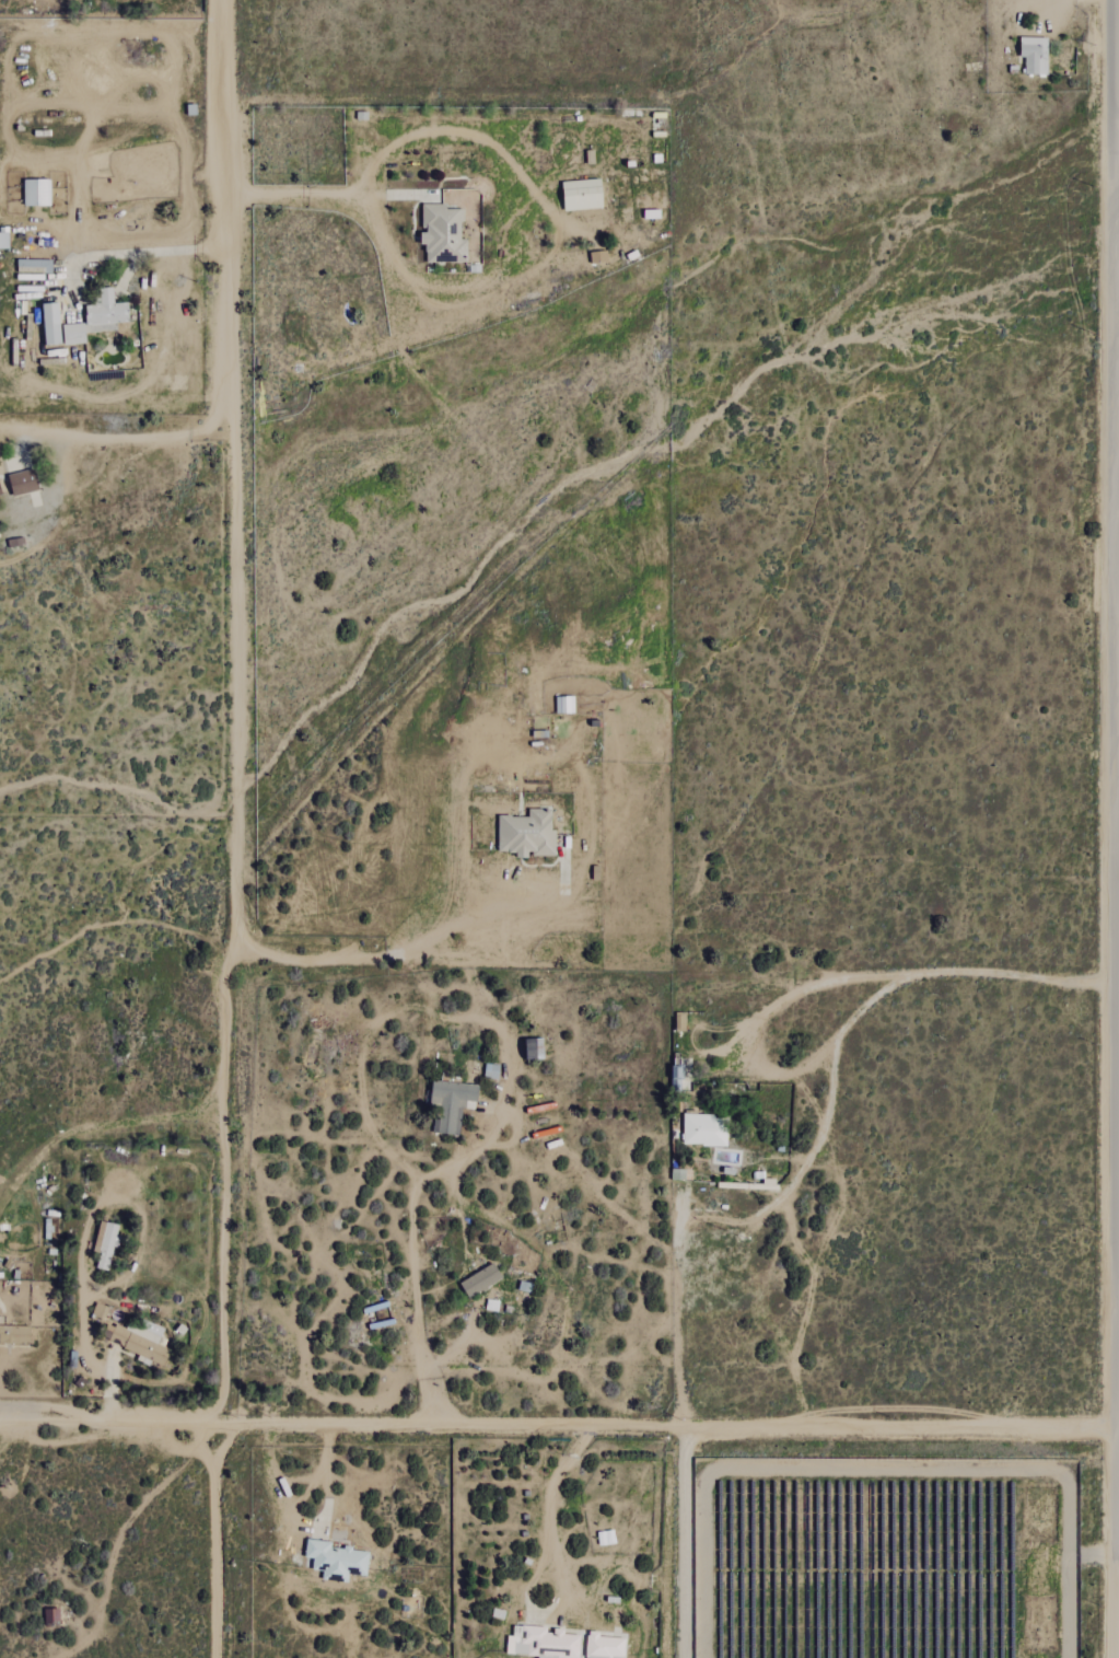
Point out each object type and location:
building: (1035, 55)
building: (36, 192)
road: (310, 195)
building: (583, 195)
building: (443, 234)
building: (3, 239)
road: (172, 252)
building: (96, 318)
building: (51, 324)
road: (142, 438)
road: (235, 469)
building: (23, 482)
building: (0, 492)
building: (564, 705)
road: (1112, 828)
building: (527, 834)
road: (494, 913)
road: (760, 999)
building: (535, 1048)
building: (677, 1078)
road: (829, 1079)
building: (451, 1104)
road: (522, 1110)
building: (704, 1129)
road: (220, 1181)
building: (105, 1243)
building: (480, 1279)
building: (14, 1334)
building: (138, 1341)
road: (95, 1363)
road: (559, 1425)
road: (295, 1481)
road: (139, 1508)
road: (550, 1512)
road: (217, 1541)
road: (667, 1541)
building: (336, 1560)
building: (543, 1643)
building: (605, 1646)

